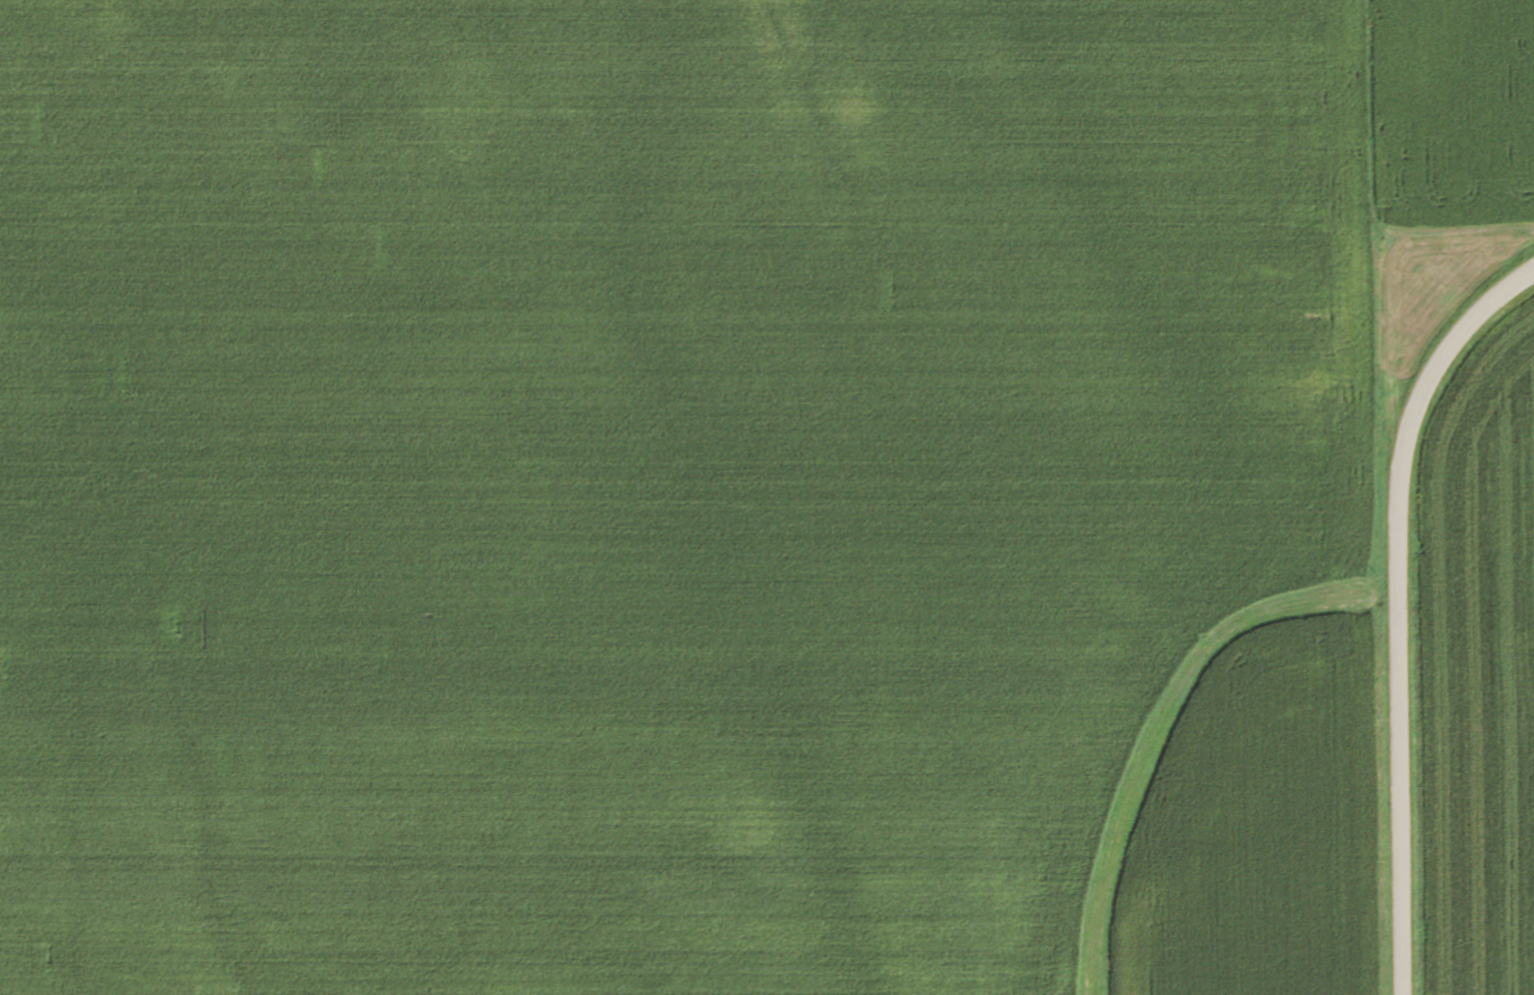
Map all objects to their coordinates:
road: (1398, 607)

